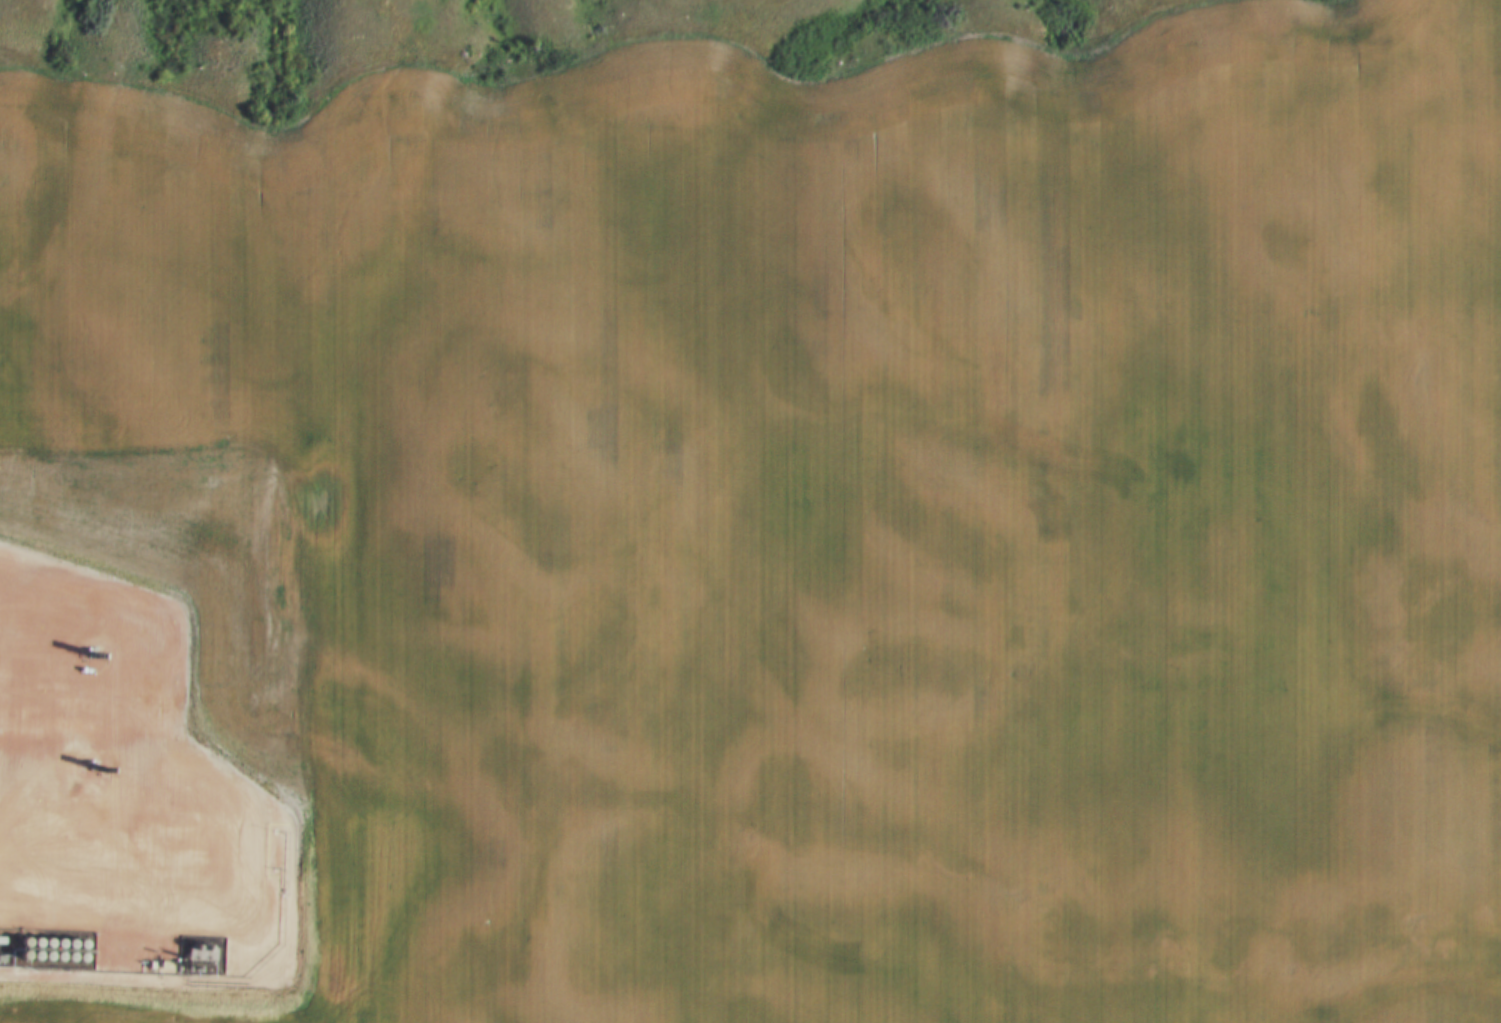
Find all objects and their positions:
petroleum well: (88, 767)
building: (220, 921)
building: (3, 952)
storage tank: (3, 952)
building: (15, 952)
storage tank: (15, 952)
building: (27, 953)
storage tank: (27, 953)
building: (38, 953)
storage tank: (38, 953)
building: (49, 953)
storage tank: (49, 953)
building: (72, 954)
storage tank: (72, 954)
building: (61, 955)
storage tank: (61, 955)

